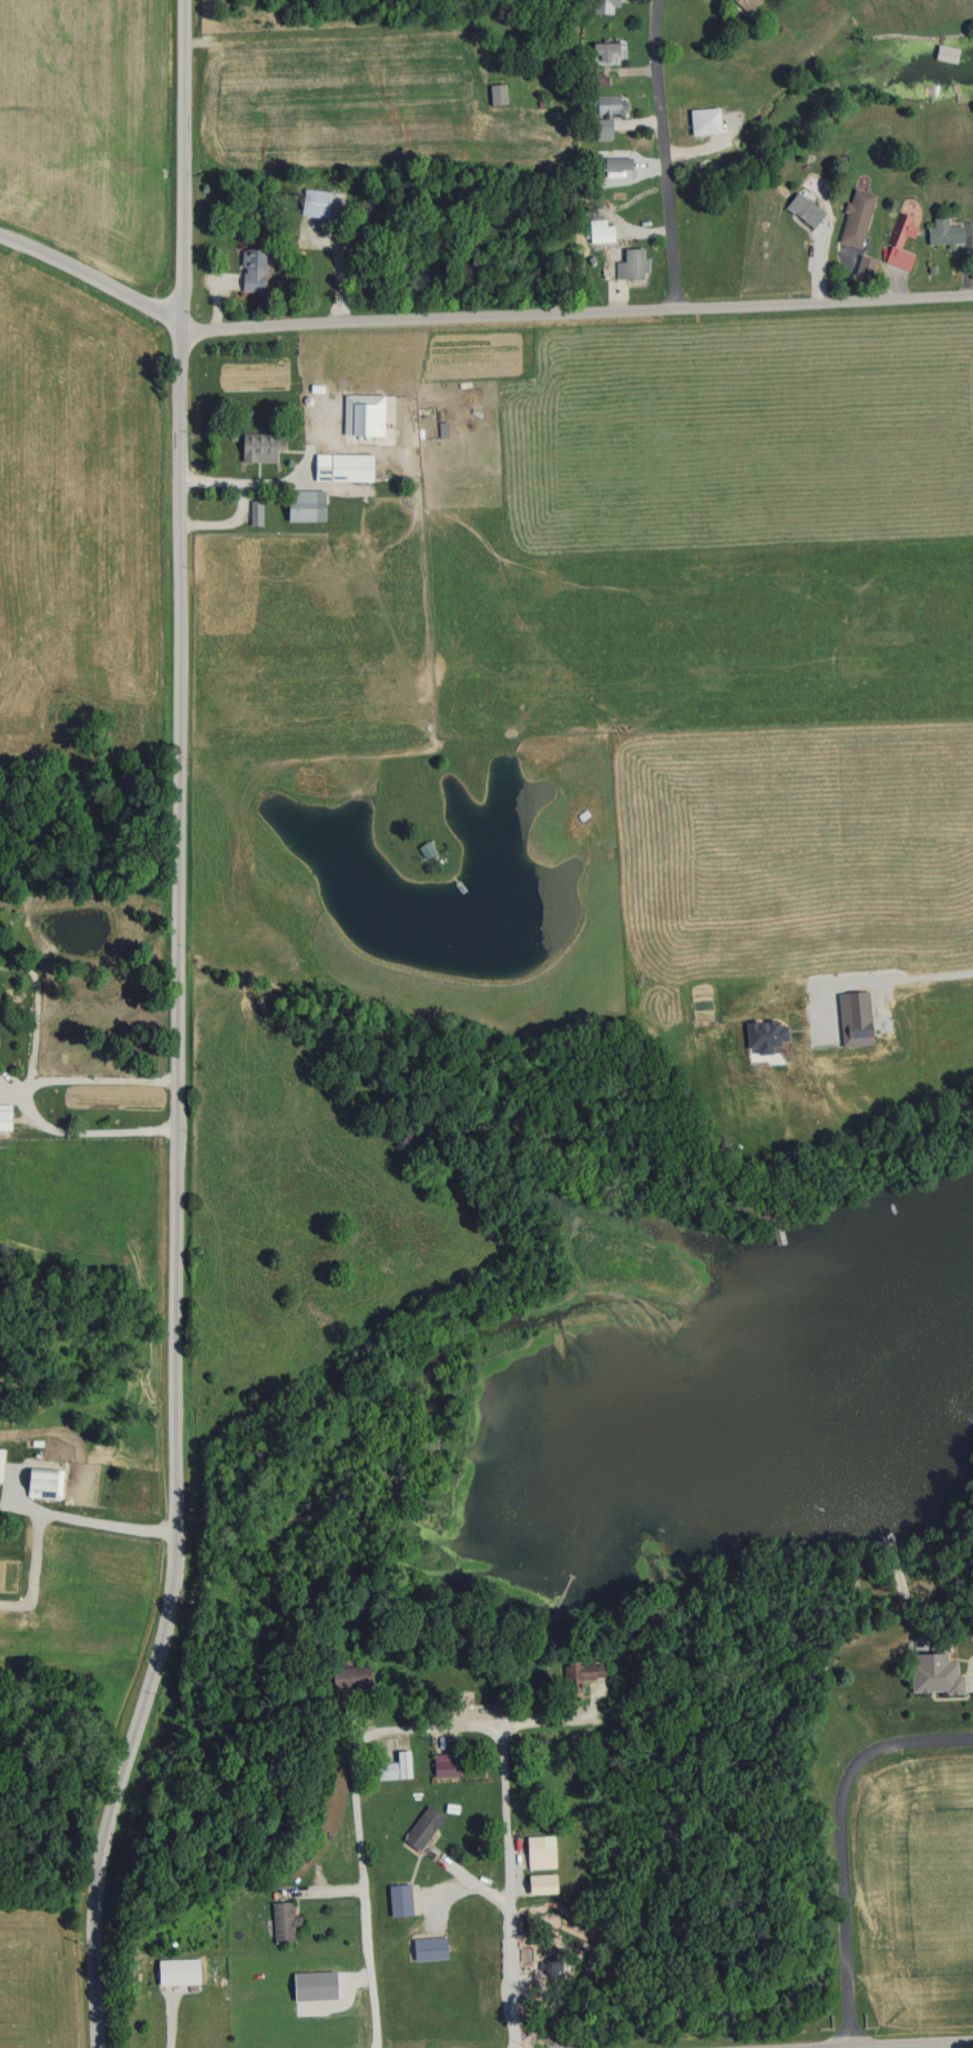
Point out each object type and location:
building: (746, 2)
building: (604, 6)
building: (602, 53)
building: (496, 95)
building: (605, 105)
road: (665, 154)
building: (313, 203)
building: (803, 209)
building: (855, 218)
building: (943, 232)
building: (596, 234)
building: (898, 242)
building: (629, 264)
building: (250, 270)
road: (474, 320)
building: (362, 414)
building: (259, 446)
building: (341, 467)
building: (302, 505)
building: (425, 851)
road: (911, 960)
road: (177, 1028)
road: (26, 1102)
building: (4, 1117)
building: (0, 1462)
building: (41, 1484)
road: (83, 1526)
building: (581, 1671)
building: (933, 1674)
building: (351, 1677)
road: (353, 1760)
building: (393, 1767)
building: (444, 1767)
building: (421, 1828)
road: (843, 1842)
building: (539, 1852)
road: (516, 1892)
building: (398, 1900)
building: (427, 1948)
building: (175, 1970)
road: (890, 2043)

